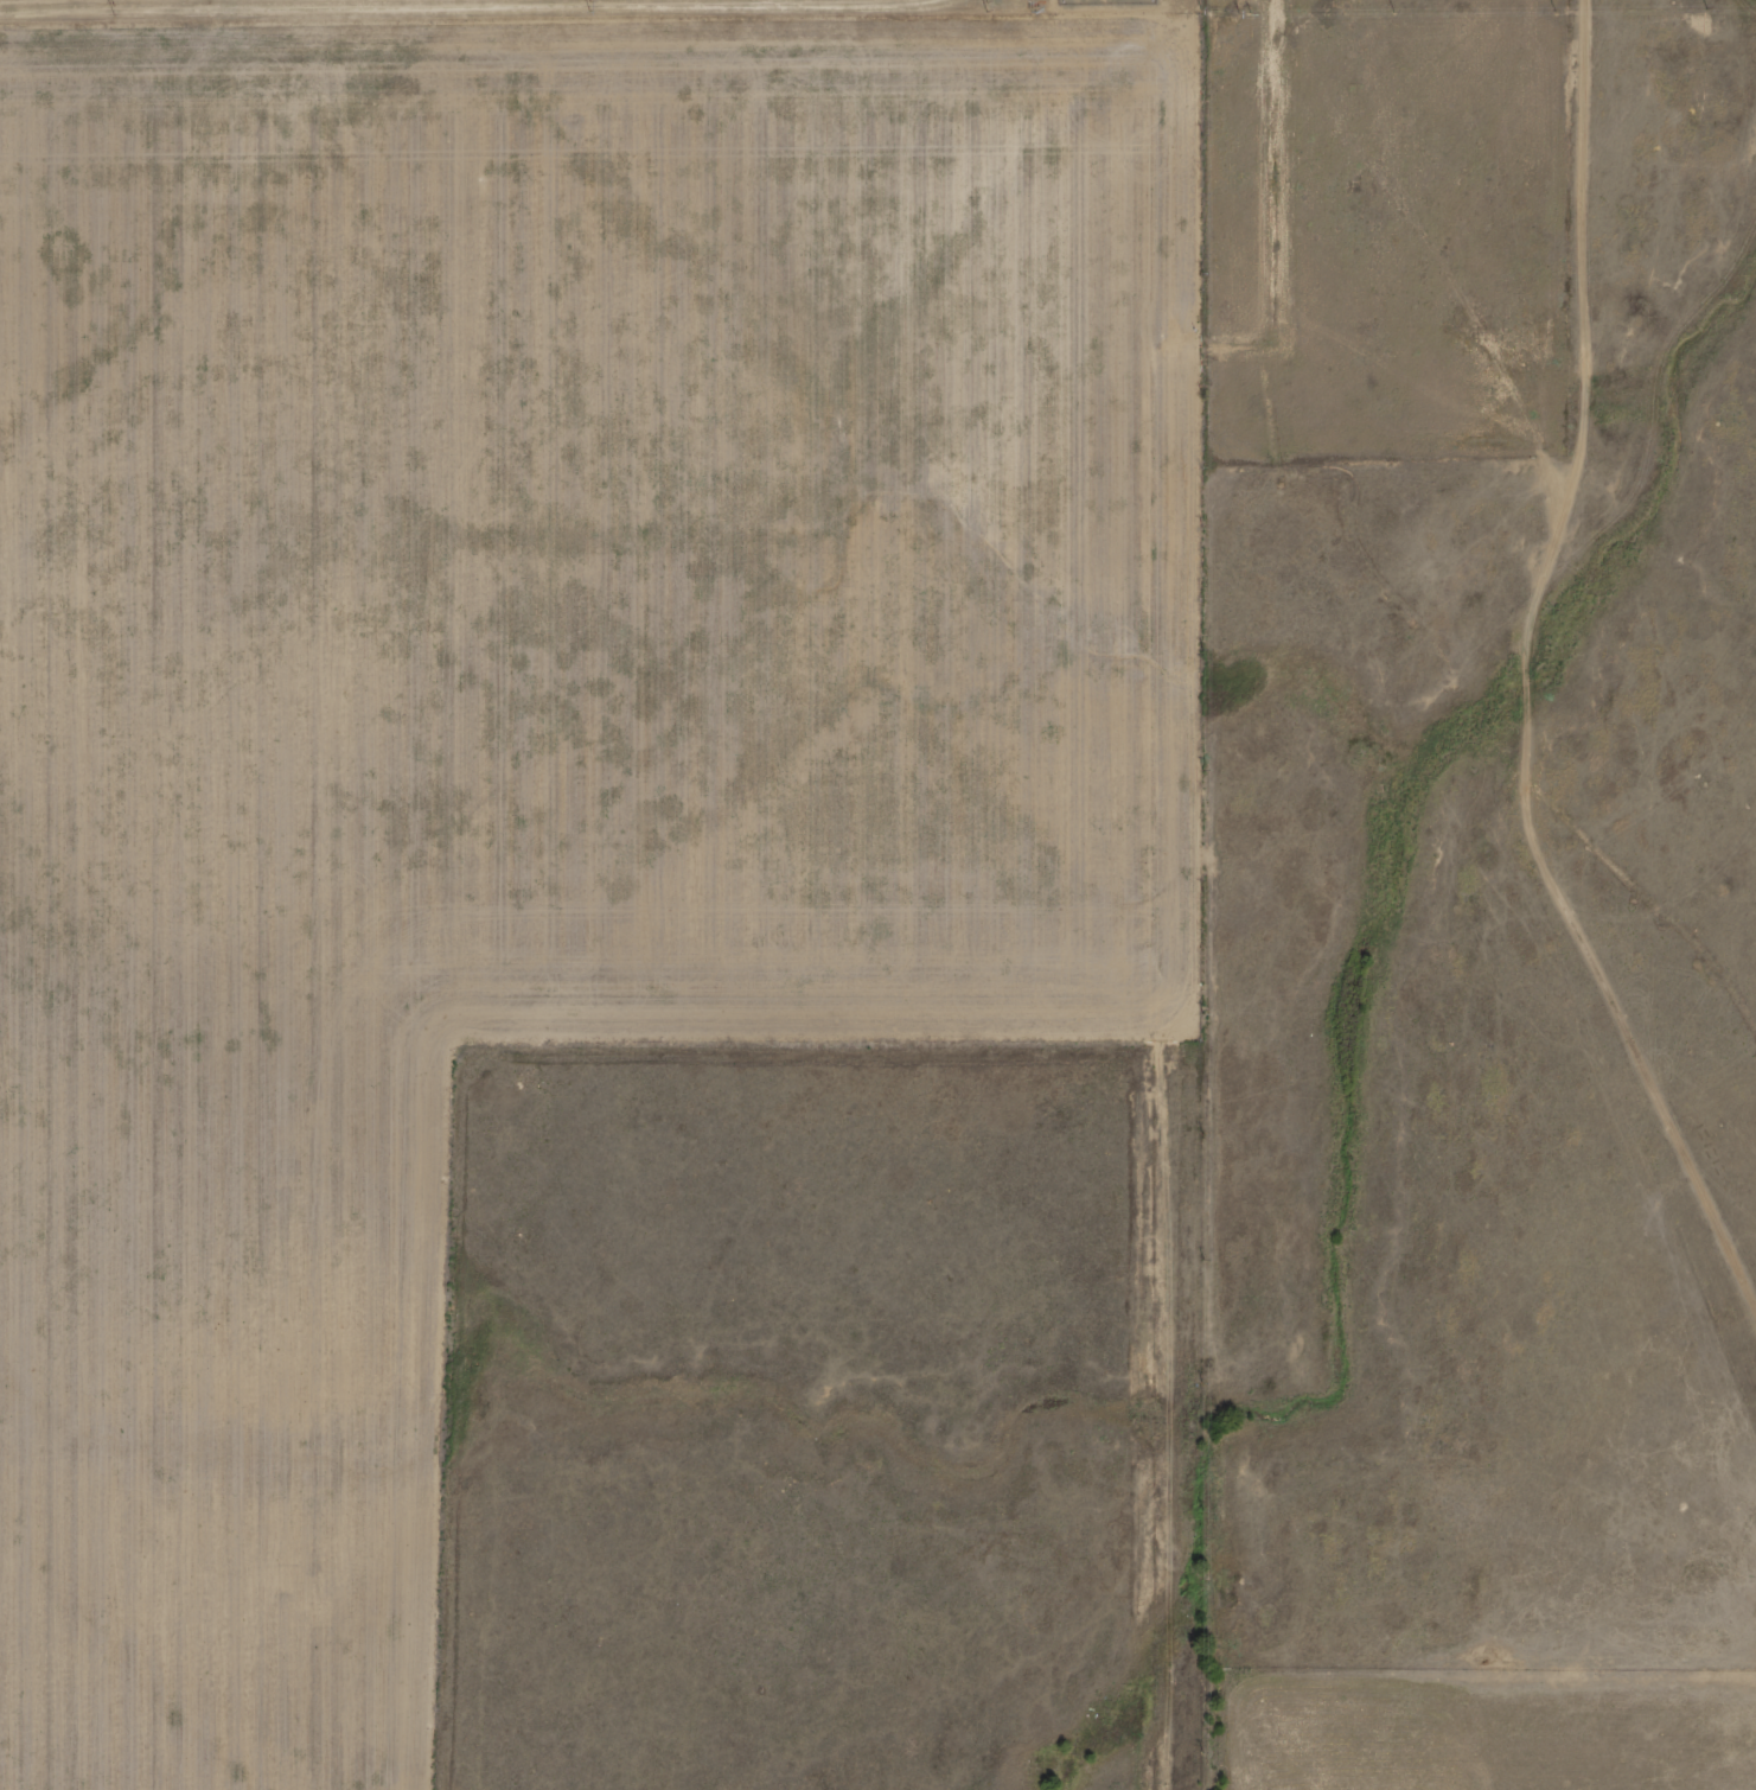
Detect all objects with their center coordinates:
power tower: (985, 0)
power substation: (1104, 1)
power tower: (589, 4)
power tower: (111, 9)

